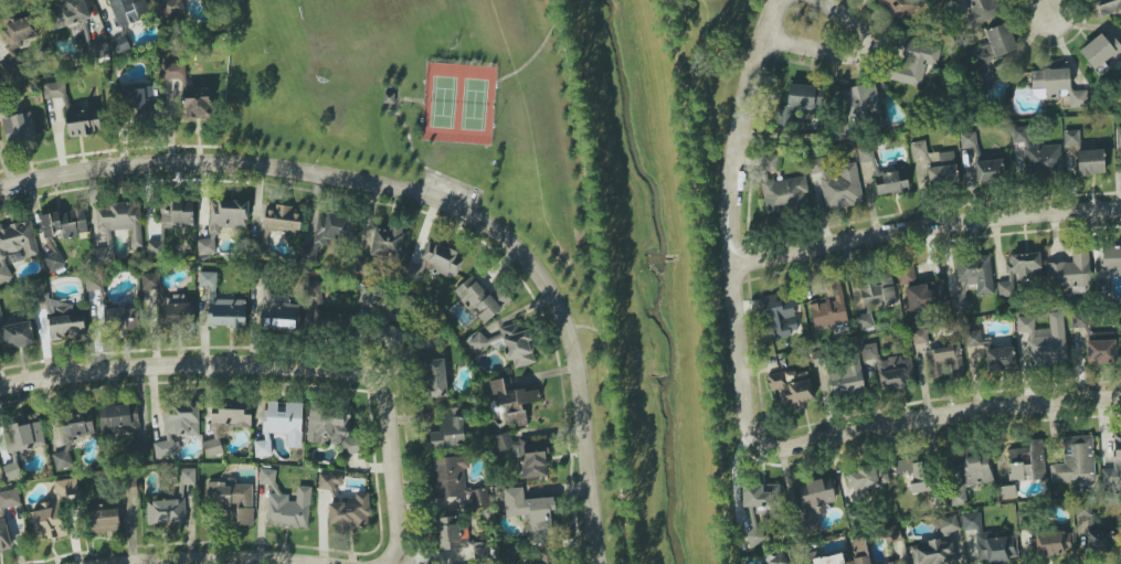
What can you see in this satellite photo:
building: (1108, 6)
building: (172, 7)
building: (901, 7)
road: (1054, 8)
building: (128, 10)
building: (982, 11)
building: (66, 14)
park: (705, 32)
building: (17, 40)
road: (670, 42)
building: (120, 44)
building: (98, 51)
building: (990, 52)
road: (846, 53)
building: (1102, 53)
road: (529, 55)
building: (913, 62)
building: (172, 71)
building: (1058, 85)
building: (863, 98)
building: (797, 102)
building: (197, 103)
park: (457, 103)
building: (141, 104)
park: (429, 106)
road: (572, 109)
building: (74, 113)
road: (400, 121)
building: (17, 130)
building: (1118, 137)
building: (1071, 138)
building: (970, 142)
building: (918, 148)
building: (865, 153)
building: (1036, 153)
building: (1090, 162)
building: (941, 169)
building: (988, 171)
building: (890, 181)
building: (837, 184)
building: (781, 188)
parking lot: (448, 189)
road: (734, 192)
road: (431, 195)
road: (452, 202)
building: (177, 214)
building: (282, 219)
building: (223, 222)
building: (64, 224)
building: (117, 226)
road: (927, 230)
building: (328, 234)
building: (389, 242)
building: (258, 244)
building: (15, 246)
building: (155, 248)
building: (1111, 257)
building: (53, 262)
building: (435, 262)
building: (1018, 272)
building: (1069, 273)
building: (906, 274)
building: (973, 278)
building: (873, 291)
building: (923, 295)
road: (705, 297)
building: (480, 299)
building: (168, 304)
building: (222, 305)
building: (321, 306)
road: (722, 307)
building: (828, 307)
building: (277, 312)
building: (780, 317)
building: (62, 318)
building: (120, 320)
building: (864, 321)
road: (585, 326)
building: (15, 333)
building: (390, 336)
building: (972, 338)
building: (1044, 340)
building: (508, 344)
building: (1100, 349)
building: (940, 358)
building: (1000, 360)
road: (148, 368)
building: (897, 373)
building: (434, 376)
building: (845, 380)
building: (791, 390)
road: (606, 392)
building: (512, 400)
building: (231, 414)
building: (119, 419)
road: (911, 423)
building: (281, 425)
building: (177, 427)
building: (331, 427)
building: (448, 430)
road: (392, 433)
building: (27, 435)
building: (72, 435)
building: (503, 441)
building: (212, 447)
building: (533, 459)
building: (1075, 460)
building: (1027, 461)
building: (1113, 466)
building: (11, 470)
building: (914, 473)
road: (736, 476)
building: (971, 476)
building: (866, 479)
building: (329, 481)
building: (453, 481)
building: (1007, 491)
building: (816, 493)
building: (762, 498)
building: (9, 499)
building: (232, 499)
building: (171, 502)
building: (286, 503)
building: (53, 511)
building: (350, 512)
building: (531, 513)
building: (104, 519)
building: (946, 525)
building: (892, 533)
building: (1097, 533)
building: (4, 535)
road: (723, 538)
building: (458, 539)
building: (988, 542)
building: (1054, 543)
building: (860, 551)
building: (933, 551)
building: (546, 558)
road: (221, 560)
building: (778, 560)
building: (829, 560)
building: (890, 563)

